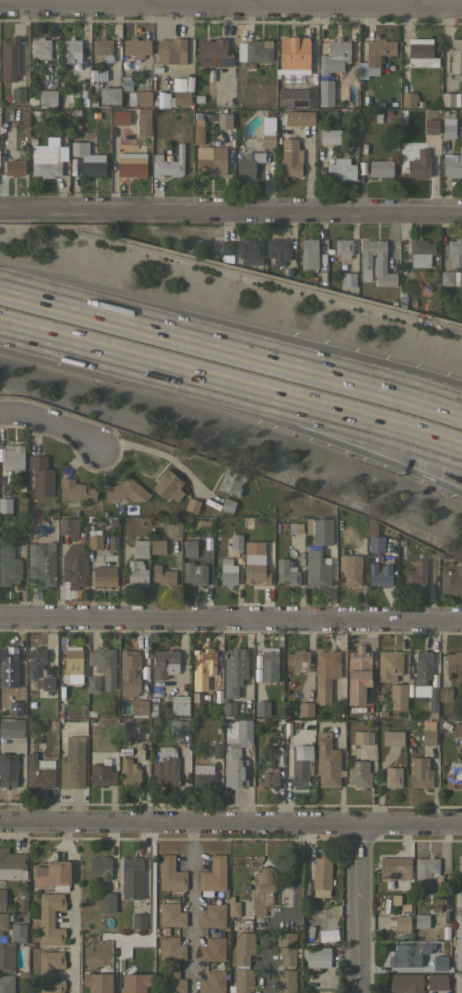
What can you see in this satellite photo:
road: (144, 2)
road: (245, 3)
road: (292, 3)
road: (398, 3)
road: (230, 5)
building: (136, 47)
building: (40, 48)
building: (70, 48)
building: (102, 50)
building: (254, 50)
building: (171, 51)
building: (421, 52)
building: (214, 53)
building: (294, 53)
building: (334, 56)
building: (375, 56)
building: (456, 56)
building: (9, 59)
building: (124, 65)
building: (99, 75)
building: (123, 84)
building: (183, 90)
building: (295, 90)
building: (325, 92)
building: (17, 94)
building: (110, 95)
building: (138, 96)
building: (47, 98)
building: (409, 98)
building: (197, 99)
building: (450, 99)
building: (84, 100)
building: (92, 103)
building: (120, 117)
building: (377, 117)
building: (307, 118)
building: (419, 118)
building: (224, 120)
building: (268, 121)
building: (142, 122)
building: (430, 123)
building: (448, 127)
building: (197, 128)
building: (329, 135)
building: (268, 140)
building: (349, 140)
building: (79, 147)
building: (363, 148)
building: (131, 158)
building: (290, 158)
building: (211, 159)
building: (47, 161)
building: (168, 163)
building: (453, 163)
building: (248, 164)
building: (93, 165)
building: (416, 166)
building: (14, 167)
building: (361, 168)
building: (380, 168)
building: (341, 169)
road: (231, 208)
building: (343, 247)
building: (278, 249)
building: (227, 251)
building: (250, 251)
building: (455, 251)
building: (420, 252)
building: (309, 253)
building: (376, 262)
building: (449, 278)
building: (348, 279)
road: (138, 321)
road: (70, 349)
road: (370, 368)
road: (370, 378)
road: (302, 410)
road: (54, 422)
road: (302, 429)
road: (160, 454)
building: (13, 457)
building: (41, 475)
building: (231, 481)
building: (168, 485)
building: (126, 490)
building: (74, 491)
building: (5, 504)
building: (193, 505)
building: (228, 505)
building: (66, 526)
building: (293, 526)
building: (319, 529)
building: (374, 537)
building: (94, 538)
building: (236, 542)
building: (157, 546)
building: (189, 548)
building: (141, 549)
building: (41, 563)
building: (9, 564)
building: (74, 567)
building: (256, 568)
building: (316, 569)
building: (351, 569)
building: (228, 572)
building: (286, 572)
building: (137, 573)
building: (194, 573)
building: (380, 574)
building: (416, 574)
building: (163, 575)
building: (104, 576)
building: (451, 580)
road: (231, 619)
building: (8, 657)
building: (204, 659)
building: (35, 660)
building: (298, 660)
building: (358, 660)
building: (453, 662)
building: (165, 663)
building: (269, 663)
building: (103, 664)
building: (73, 665)
building: (389, 665)
building: (423, 667)
building: (234, 670)
building: (129, 673)
building: (326, 673)
building: (93, 684)
building: (47, 687)
building: (416, 689)
building: (445, 693)
building: (197, 695)
building: (398, 696)
building: (433, 700)
building: (179, 704)
building: (139, 707)
building: (262, 707)
building: (229, 708)
building: (306, 709)
building: (11, 727)
building: (179, 727)
building: (457, 729)
building: (244, 731)
building: (363, 737)
building: (393, 737)
building: (428, 737)
building: (216, 750)
building: (327, 761)
building: (72, 762)
building: (301, 765)
building: (165, 767)
building: (234, 768)
building: (7, 771)
building: (39, 771)
building: (419, 772)
building: (358, 774)
building: (203, 775)
building: (454, 775)
building: (102, 777)
building: (129, 777)
building: (270, 777)
building: (392, 777)
road: (248, 805)
road: (230, 822)
building: (459, 863)
building: (12, 864)
building: (100, 866)
building: (394, 867)
building: (425, 870)
building: (307, 872)
building: (320, 873)
building: (51, 874)
building: (170, 874)
building: (213, 874)
building: (131, 877)
building: (262, 890)
road: (149, 895)
building: (2, 898)
building: (458, 898)
building: (107, 902)
road: (73, 905)
building: (233, 906)
road: (189, 907)
building: (304, 908)
road: (354, 908)
road: (288, 913)
building: (170, 915)
building: (212, 915)
building: (49, 918)
building: (421, 920)
building: (3, 921)
building: (138, 921)
building: (401, 922)
building: (17, 932)
building: (458, 941)
building: (242, 947)
building: (285, 947)
building: (170, 948)
building: (212, 949)
building: (408, 953)
building: (317, 956)
building: (6, 957)
building: (439, 962)
building: (49, 971)
building: (242, 980)
building: (285, 981)
building: (436, 981)
building: (96, 982)
building: (170, 982)
building: (212, 982)
building: (406, 982)
building: (132, 983)
building: (458, 983)
building: (6, 984)

